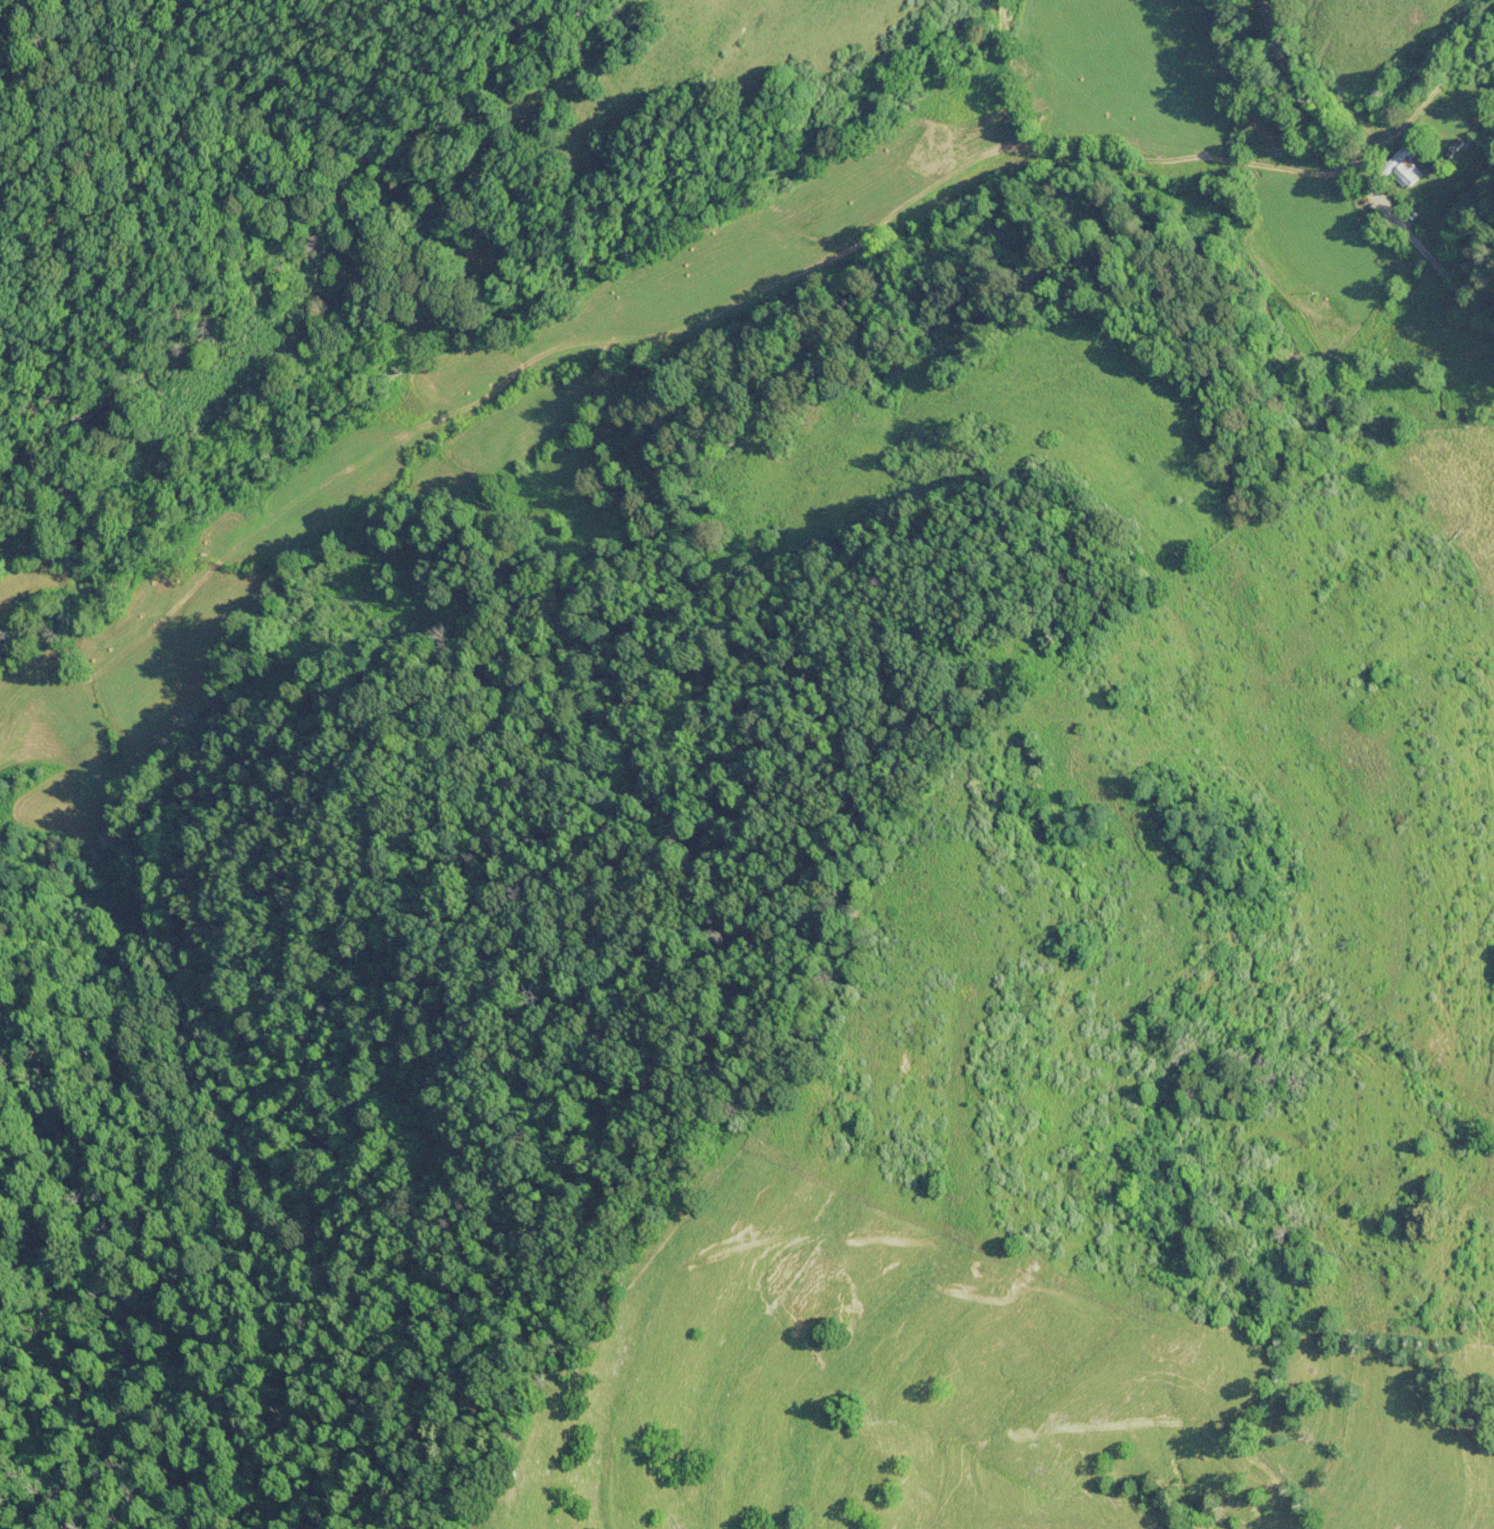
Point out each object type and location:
building: (1029, 99)
road: (870, 134)
building: (1403, 166)
road: (1362, 187)

